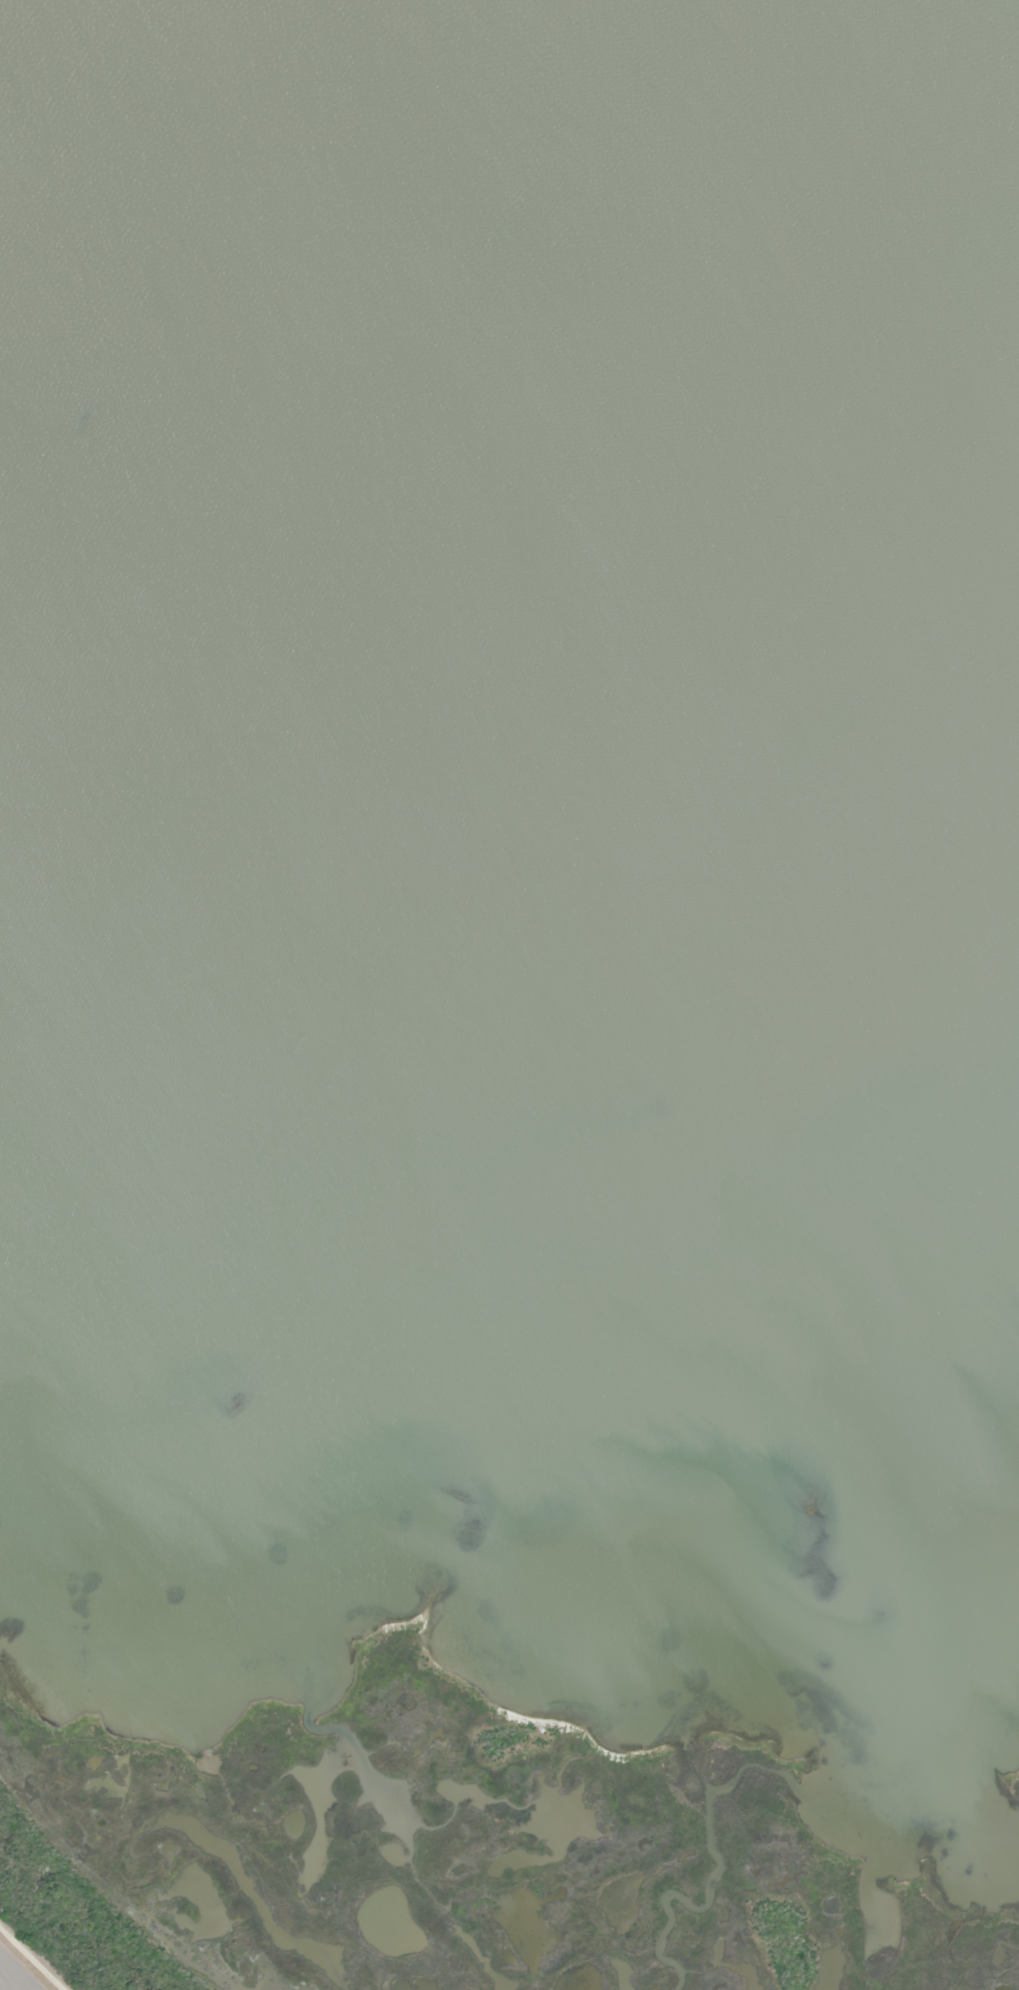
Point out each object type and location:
road: (32, 1958)

